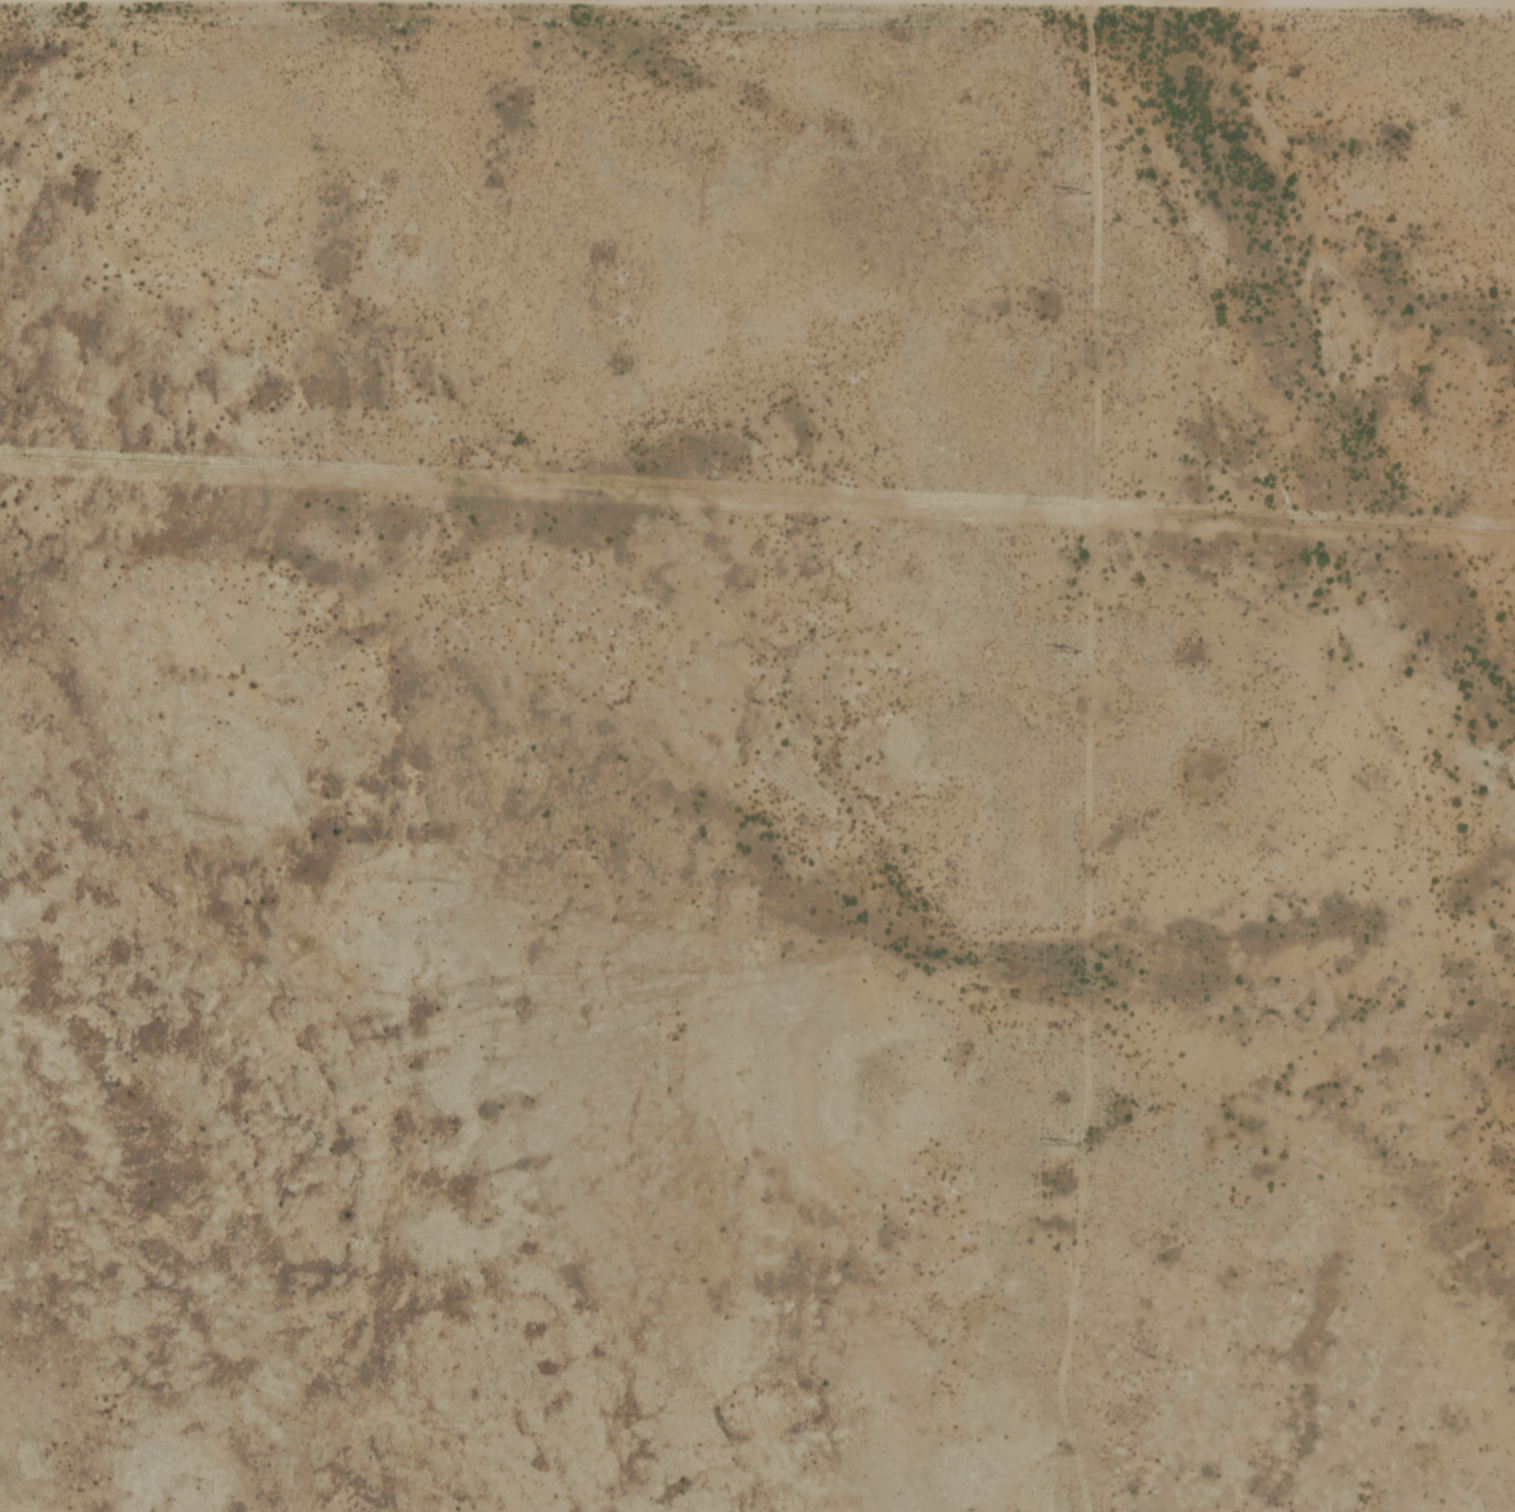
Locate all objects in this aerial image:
road: (1206, 1)
road: (1433, 1)
power tower: (1084, 192)
power tower: (1075, 652)
power tower: (1069, 1139)

